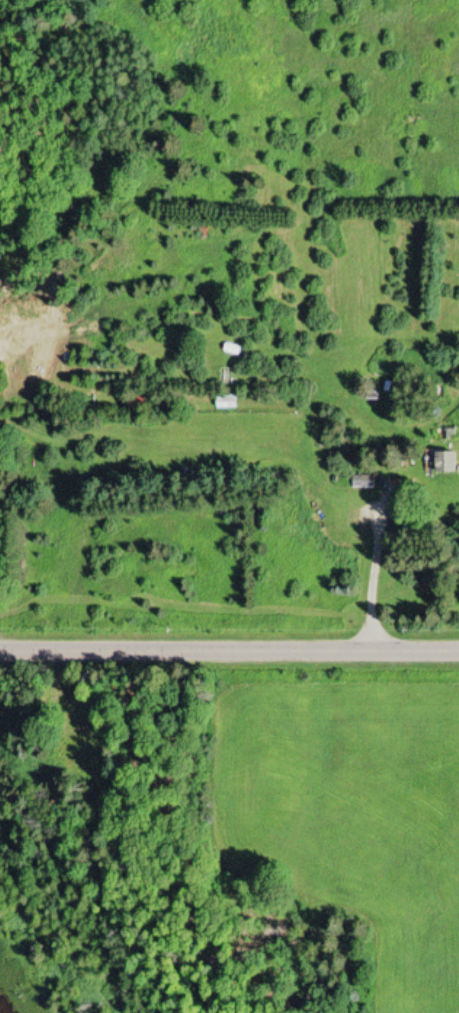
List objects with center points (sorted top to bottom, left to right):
building: (225, 377)
building: (441, 464)
building: (361, 483)
road: (229, 655)
building: (77, 745)

